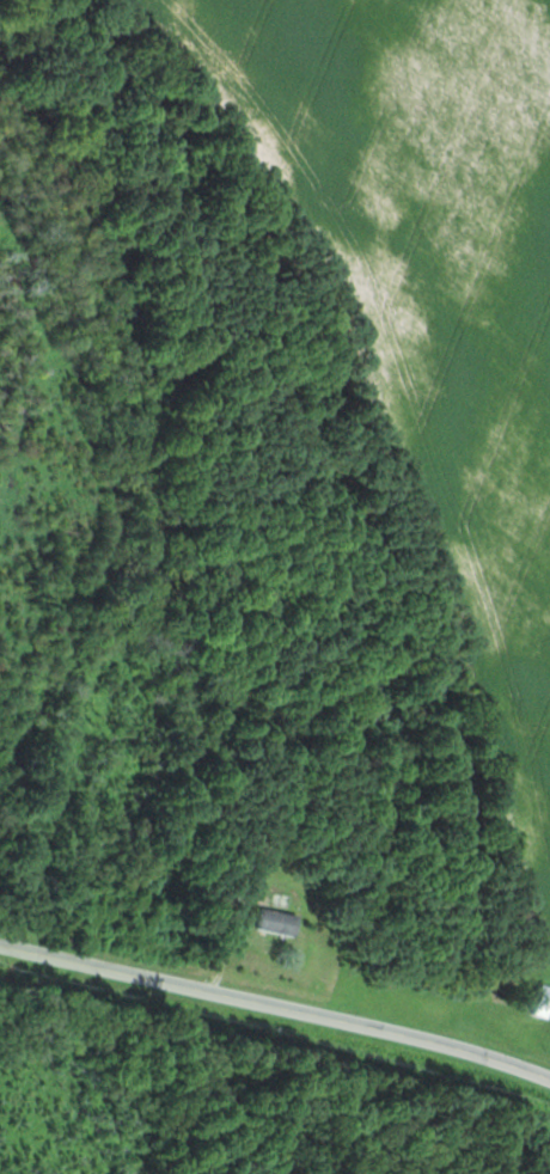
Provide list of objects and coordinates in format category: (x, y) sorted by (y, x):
building: (275, 922)
building: (539, 1002)
road: (276, 1005)

